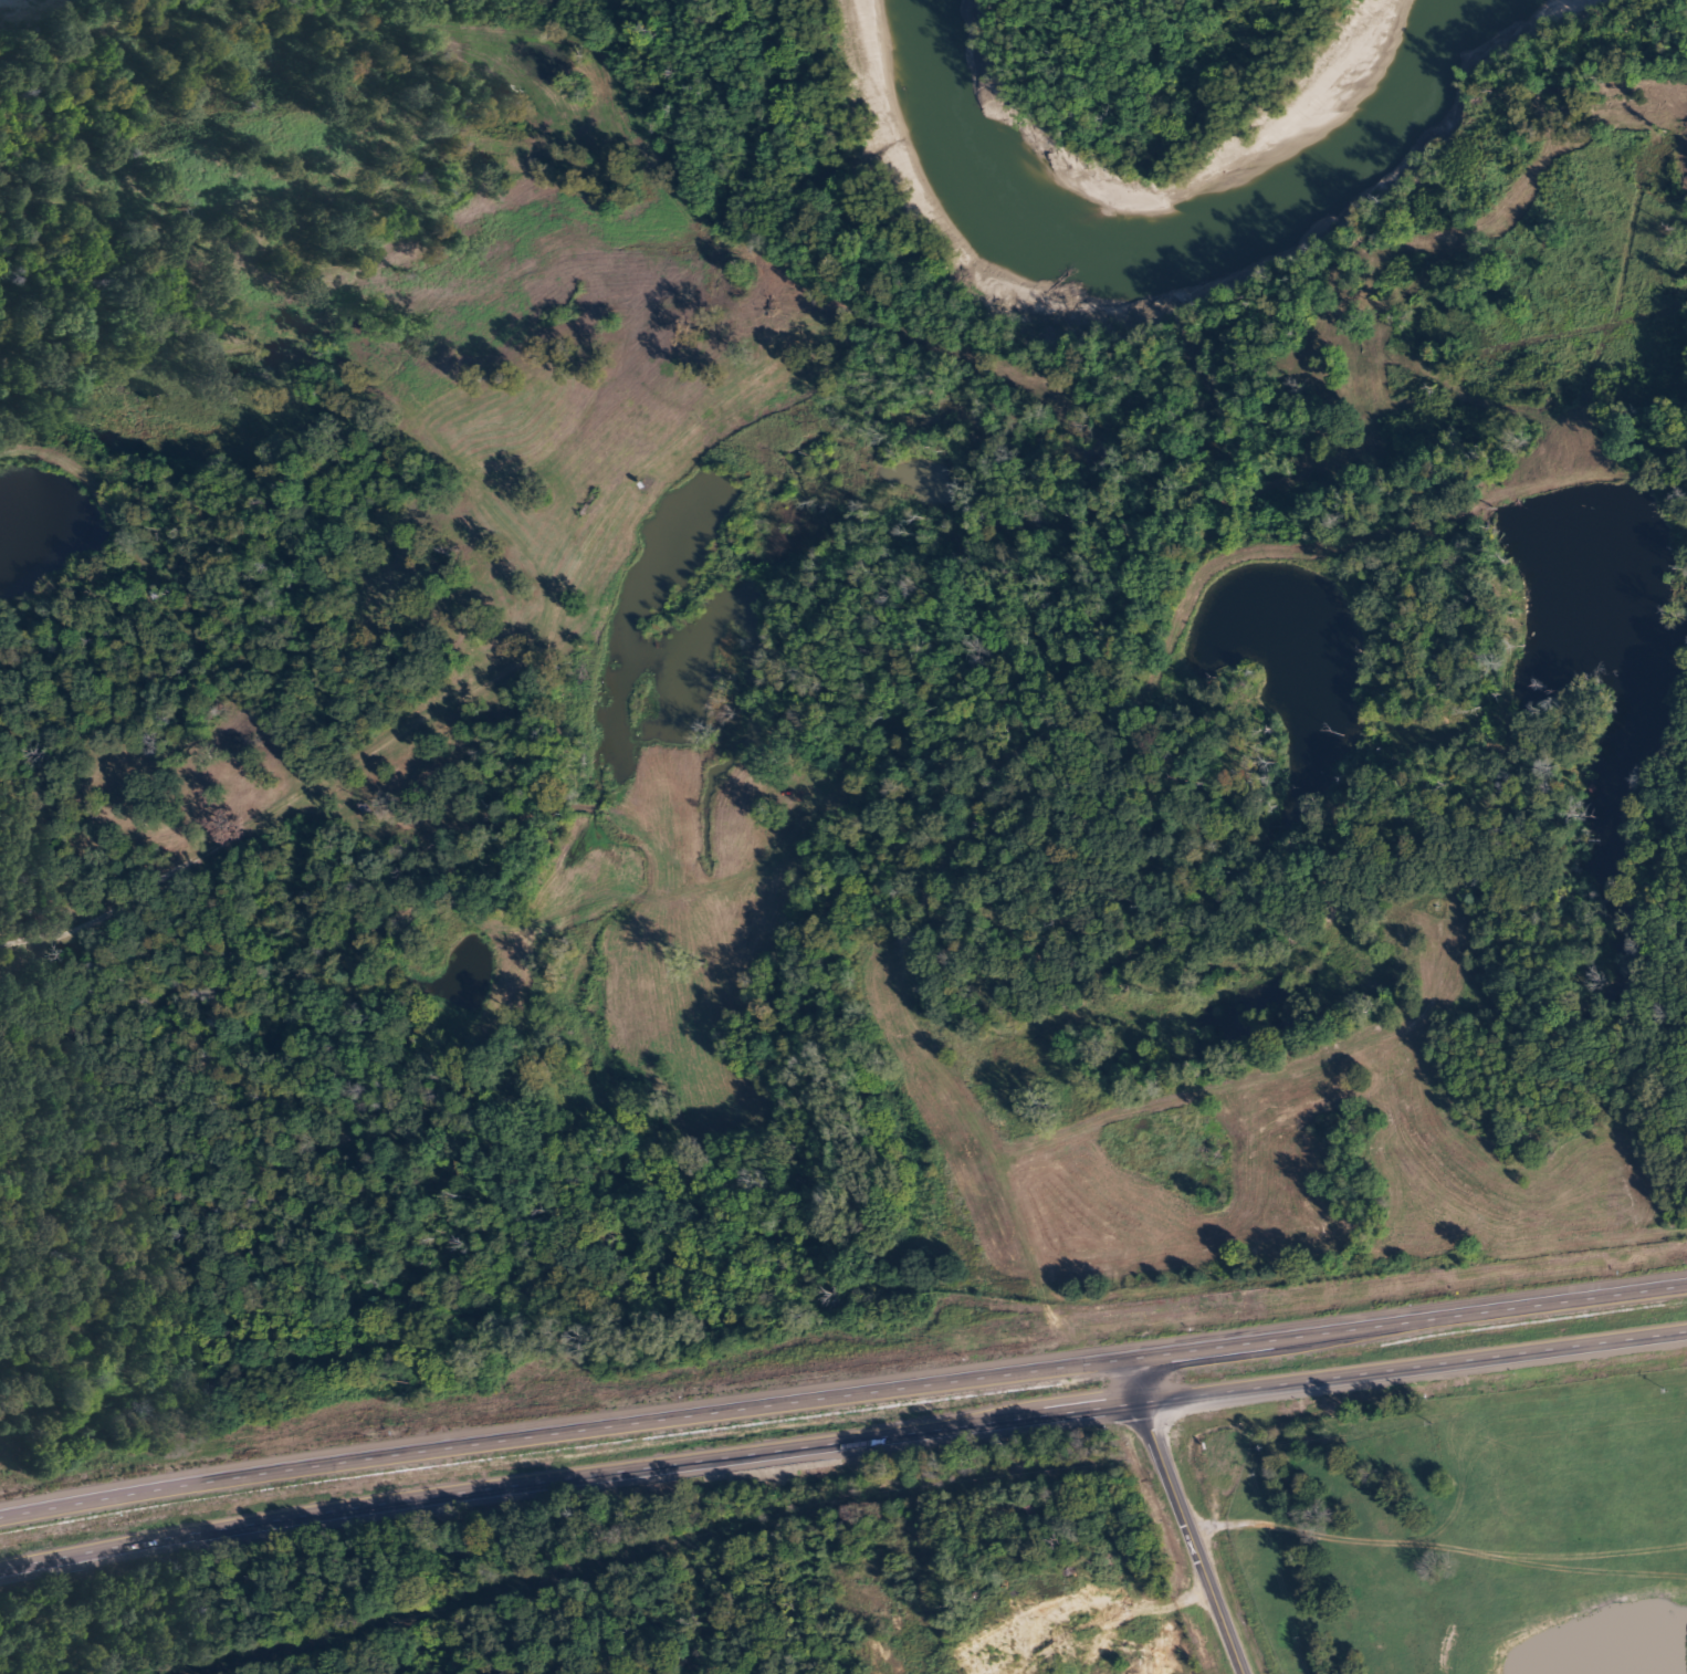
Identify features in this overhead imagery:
road: (67, 30)
river: (1119, 233)
road: (842, 1387)
road: (841, 1437)
road: (1191, 1516)
road: (1089, 1595)

